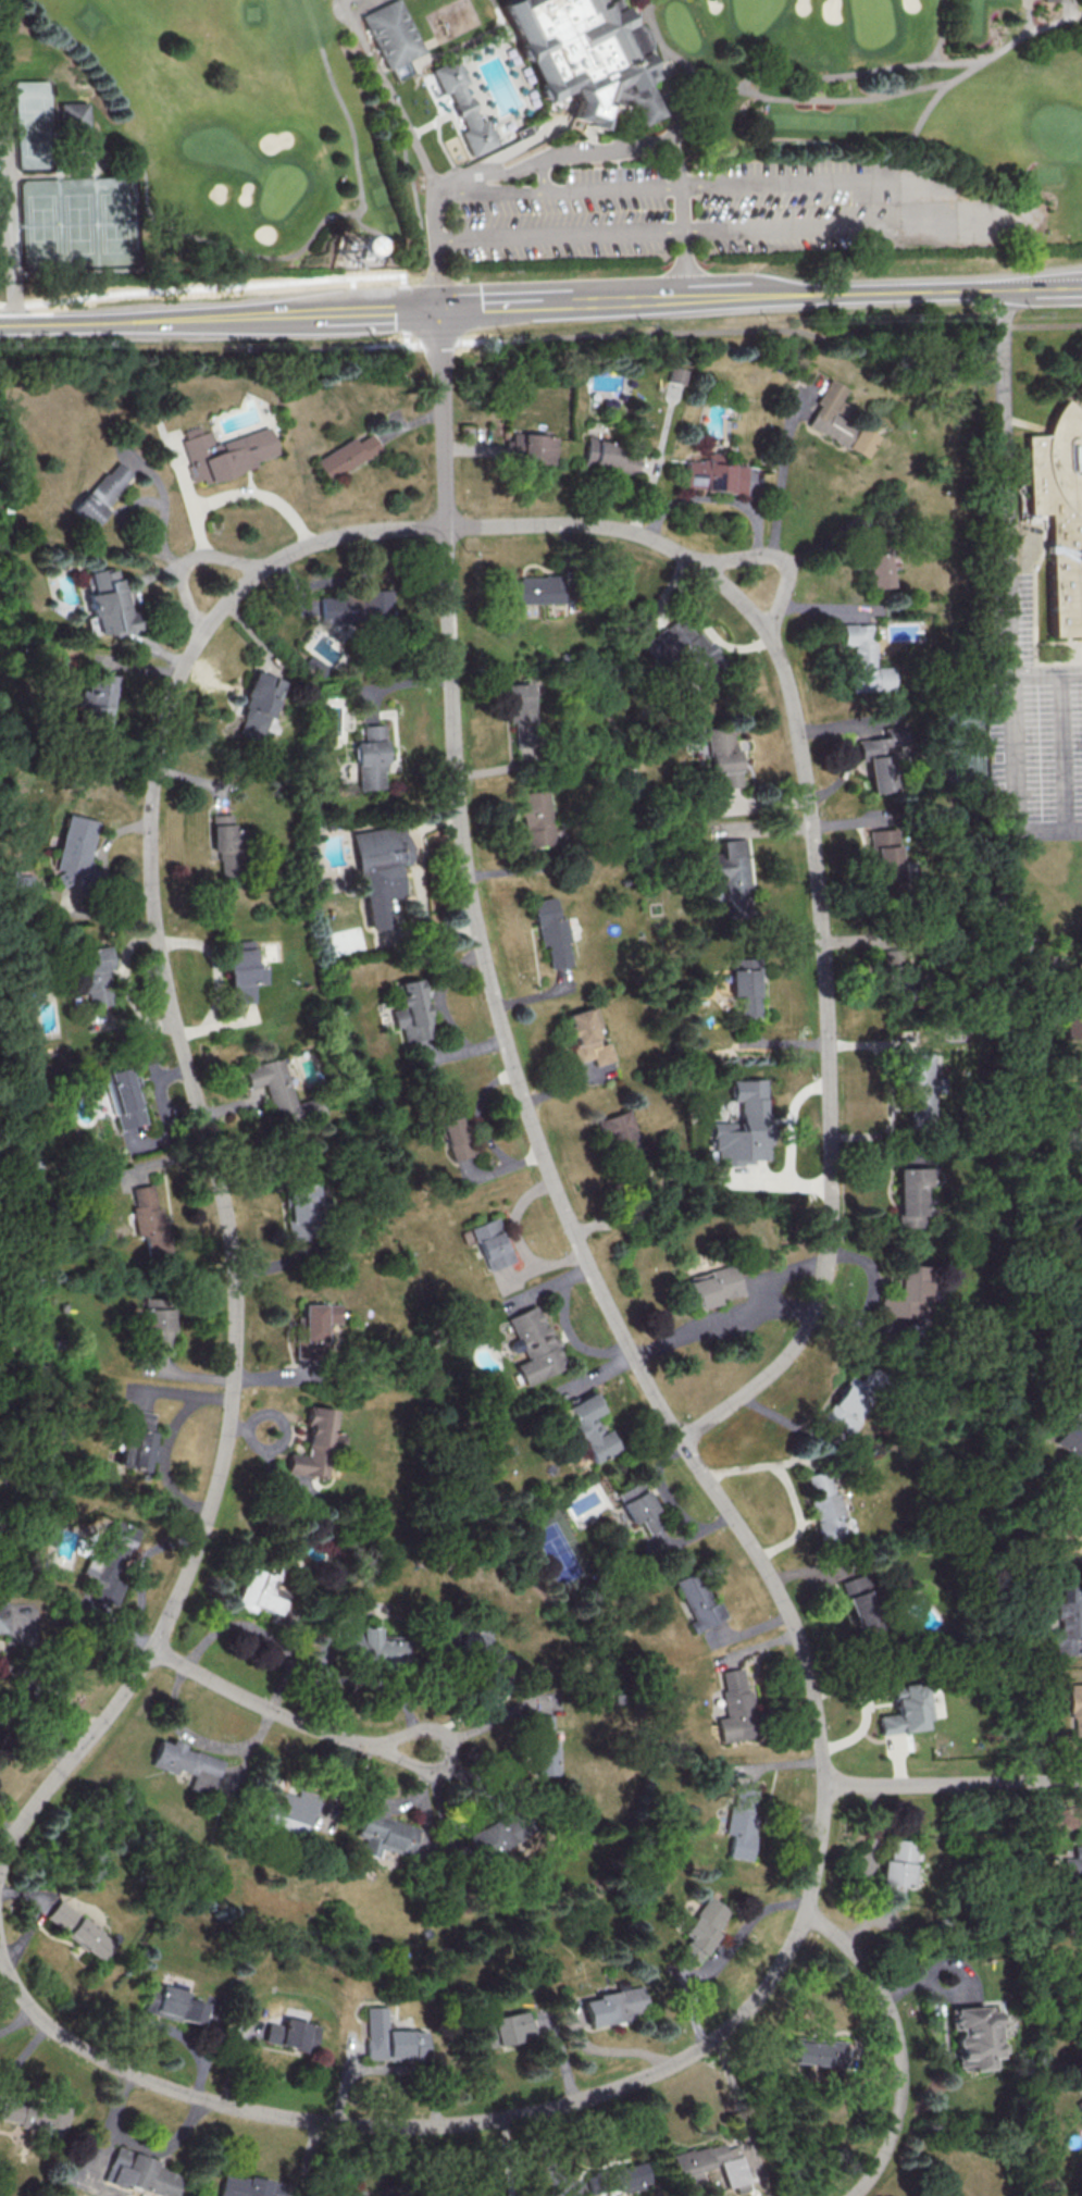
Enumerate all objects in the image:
road: (1029, 15)
road: (503, 17)
road: (943, 30)
building: (395, 32)
building: (587, 53)
park: (403, 69)
road: (859, 70)
road: (427, 78)
road: (953, 78)
road: (393, 94)
road: (771, 96)
road: (647, 102)
building: (465, 104)
building: (78, 114)
park: (38, 125)
road: (73, 131)
park: (528, 131)
road: (527, 141)
road: (890, 149)
road: (656, 152)
road: (55, 174)
road: (476, 177)
road: (543, 177)
road: (816, 182)
road: (492, 195)
park: (79, 222)
road: (681, 222)
road: (953, 222)
road: (420, 225)
road: (12, 229)
road: (558, 237)
water tower: (345, 239)
road: (294, 250)
road: (351, 281)
road: (206, 285)
road: (884, 293)
road: (562, 301)
traffic signals: (437, 306)
road: (402, 309)
road: (300, 310)
road: (82, 321)
road: (403, 339)
road: (485, 340)
road: (437, 343)
road: (369, 345)
building: (676, 374)
building: (831, 414)
building: (861, 441)
building: (532, 447)
building: (225, 451)
building: (344, 455)
building: (609, 455)
building: (714, 475)
road: (782, 486)
building: (101, 492)
road: (244, 493)
road: (713, 497)
building: (1059, 511)
road: (164, 548)
road: (219, 555)
road: (778, 557)
building: (878, 570)
building: (534, 590)
building: (105, 603)
building: (353, 606)
building: (684, 648)
building: (865, 659)
road: (1074, 674)
road: (1010, 695)
building: (94, 699)
building: (256, 707)
building: (521, 714)
building: (723, 755)
building: (370, 758)
building: (535, 818)
road: (1077, 829)
building: (223, 842)
building: (74, 848)
building: (886, 853)
building: (378, 870)
building: (732, 877)
building: (21, 879)
road: (820, 884)
road: (473, 892)
road: (1009, 918)
building: (551, 932)
building: (344, 941)
building: (242, 970)
building: (92, 975)
building: (897, 983)
building: (747, 990)
building: (413, 1010)
building: (1072, 1017)
building: (586, 1037)
building: (920, 1085)
road: (888, 1090)
building: (281, 1091)
building: (125, 1099)
building: (1074, 1101)
building: (744, 1126)
road: (481, 1128)
building: (453, 1132)
road: (207, 1138)
building: (621, 1138)
road: (789, 1142)
building: (910, 1194)
building: (301, 1212)
building: (149, 1219)
road: (517, 1238)
building: (492, 1243)
road: (785, 1270)
building: (709, 1287)
road: (869, 1292)
building: (908, 1293)
road: (723, 1317)
road: (565, 1324)
building: (159, 1325)
building: (314, 1329)
building: (535, 1344)
building: (850, 1401)
building: (589, 1426)
building: (1070, 1437)
building: (135, 1440)
building: (314, 1443)
road: (759, 1464)
building: (824, 1504)
building: (638, 1505)
road: (798, 1516)
building: (1071, 1534)
building: (109, 1562)
building: (698, 1601)
building: (859, 1604)
building: (1067, 1624)
building: (476, 1640)
building: (370, 1645)
road: (369, 1682)
road: (33, 1686)
building: (735, 1708)
road: (473, 1709)
building: (906, 1709)
building: (1075, 1709)
road: (282, 1713)
road: (487, 1720)
road: (199, 1738)
building: (543, 1746)
road: (782, 1762)
building: (187, 1764)
road: (953, 1785)
building: (285, 1811)
building: (741, 1822)
building: (498, 1833)
building: (383, 1834)
building: (1081, 1834)
road: (3, 1853)
building: (1073, 1865)
building: (896, 1870)
road: (808, 1899)
building: (701, 1927)
building: (79, 1930)
building: (172, 2003)
building: (611, 2006)
road: (17, 2021)
building: (503, 2028)
building: (291, 2034)
building: (972, 2036)
building: (389, 2037)
road: (899, 2042)
road: (610, 2050)
building: (817, 2051)
road: (171, 2088)
building: (1079, 2105)
building: (33, 2114)
road: (107, 2123)
road: (161, 2144)
road: (508, 2157)
building: (709, 2166)
building: (140, 2173)
building: (615, 2178)
building: (931, 2195)

